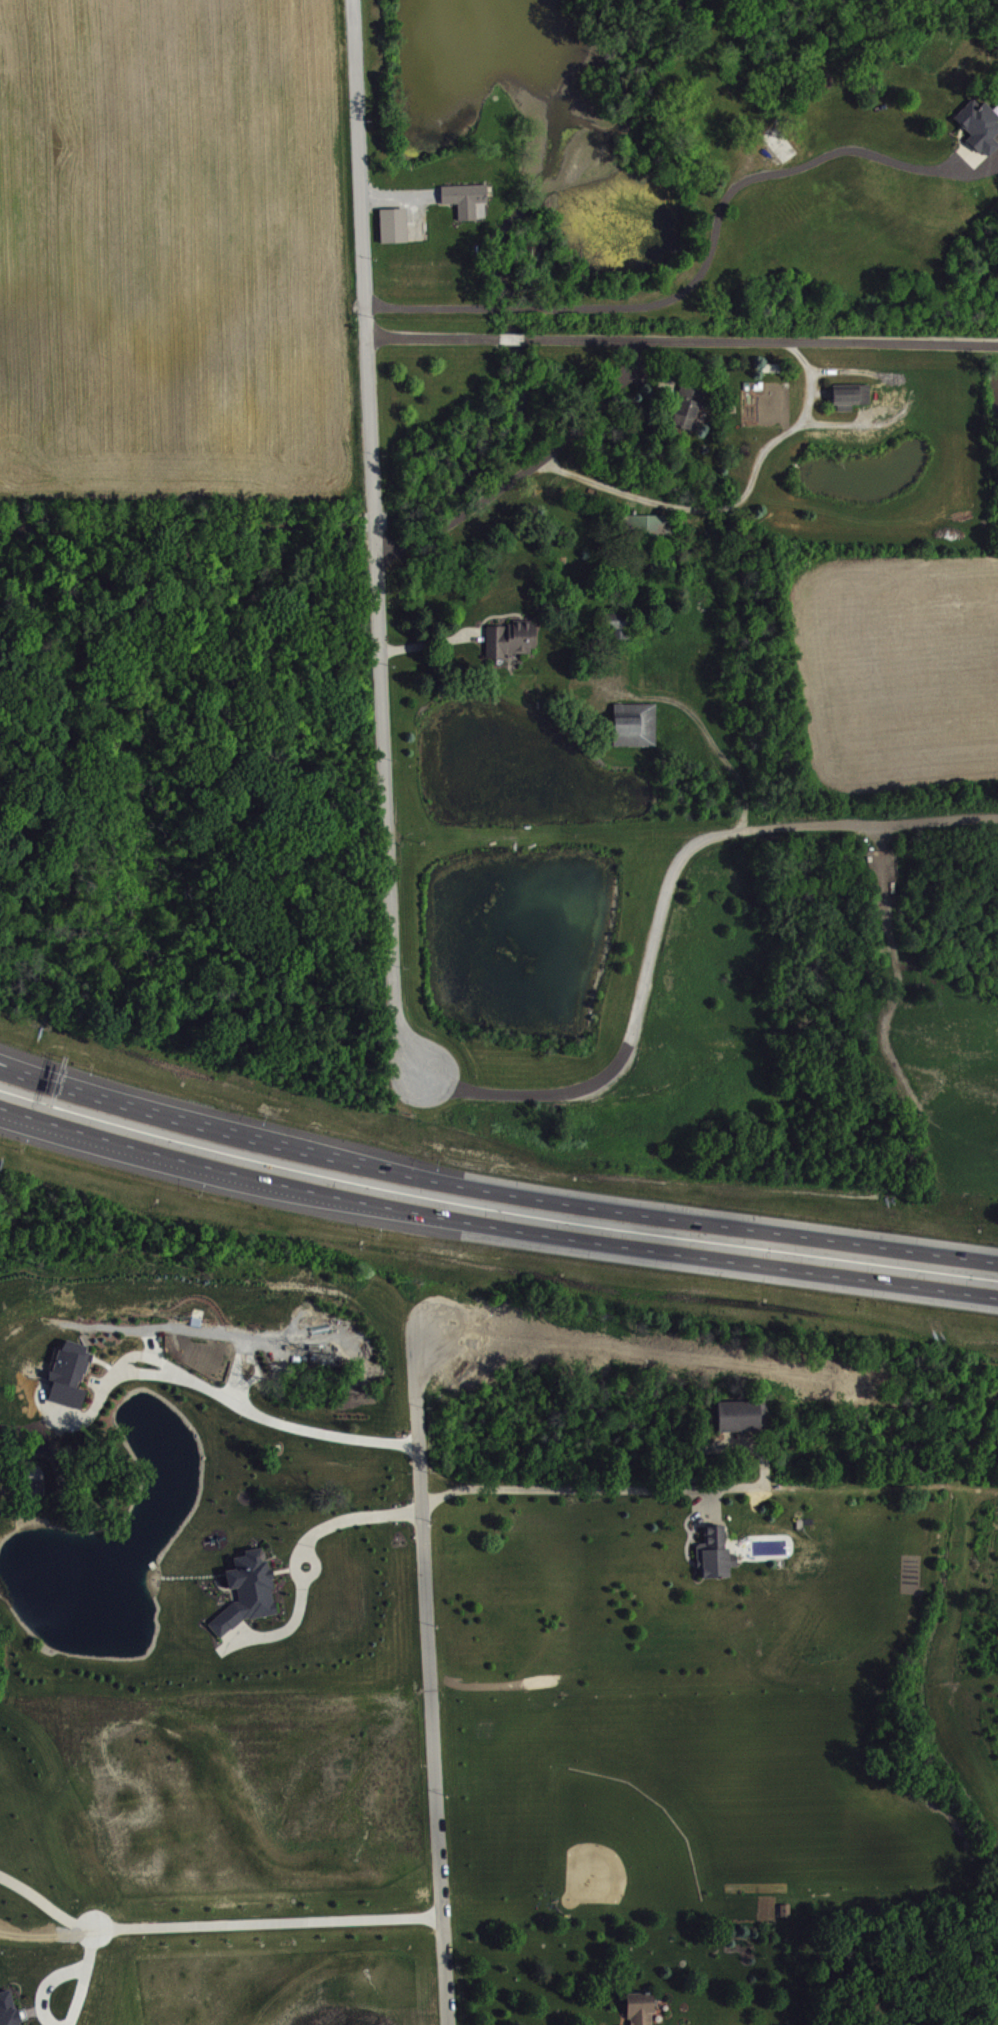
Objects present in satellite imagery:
building: (981, 127)
building: (467, 199)
building: (396, 226)
road: (365, 254)
road: (702, 276)
road: (895, 345)
building: (853, 397)
road: (603, 410)
building: (687, 413)
road: (803, 419)
road: (375, 520)
building: (647, 525)
building: (621, 626)
building: (514, 640)
building: (637, 725)
road: (708, 732)
road: (386, 806)
road: (663, 901)
road: (72, 1083)
road: (64, 1131)
road: (494, 1191)
road: (494, 1218)
road: (148, 1354)
building: (68, 1371)
road: (225, 1396)
building: (737, 1414)
road: (591, 1487)
building: (38, 1489)
building: (712, 1552)
road: (295, 1560)
road: (314, 1566)
building: (246, 1589)
road: (430, 1672)
road: (214, 1926)
road: (83, 1977)
building: (638, 2007)
building: (10, 2010)

